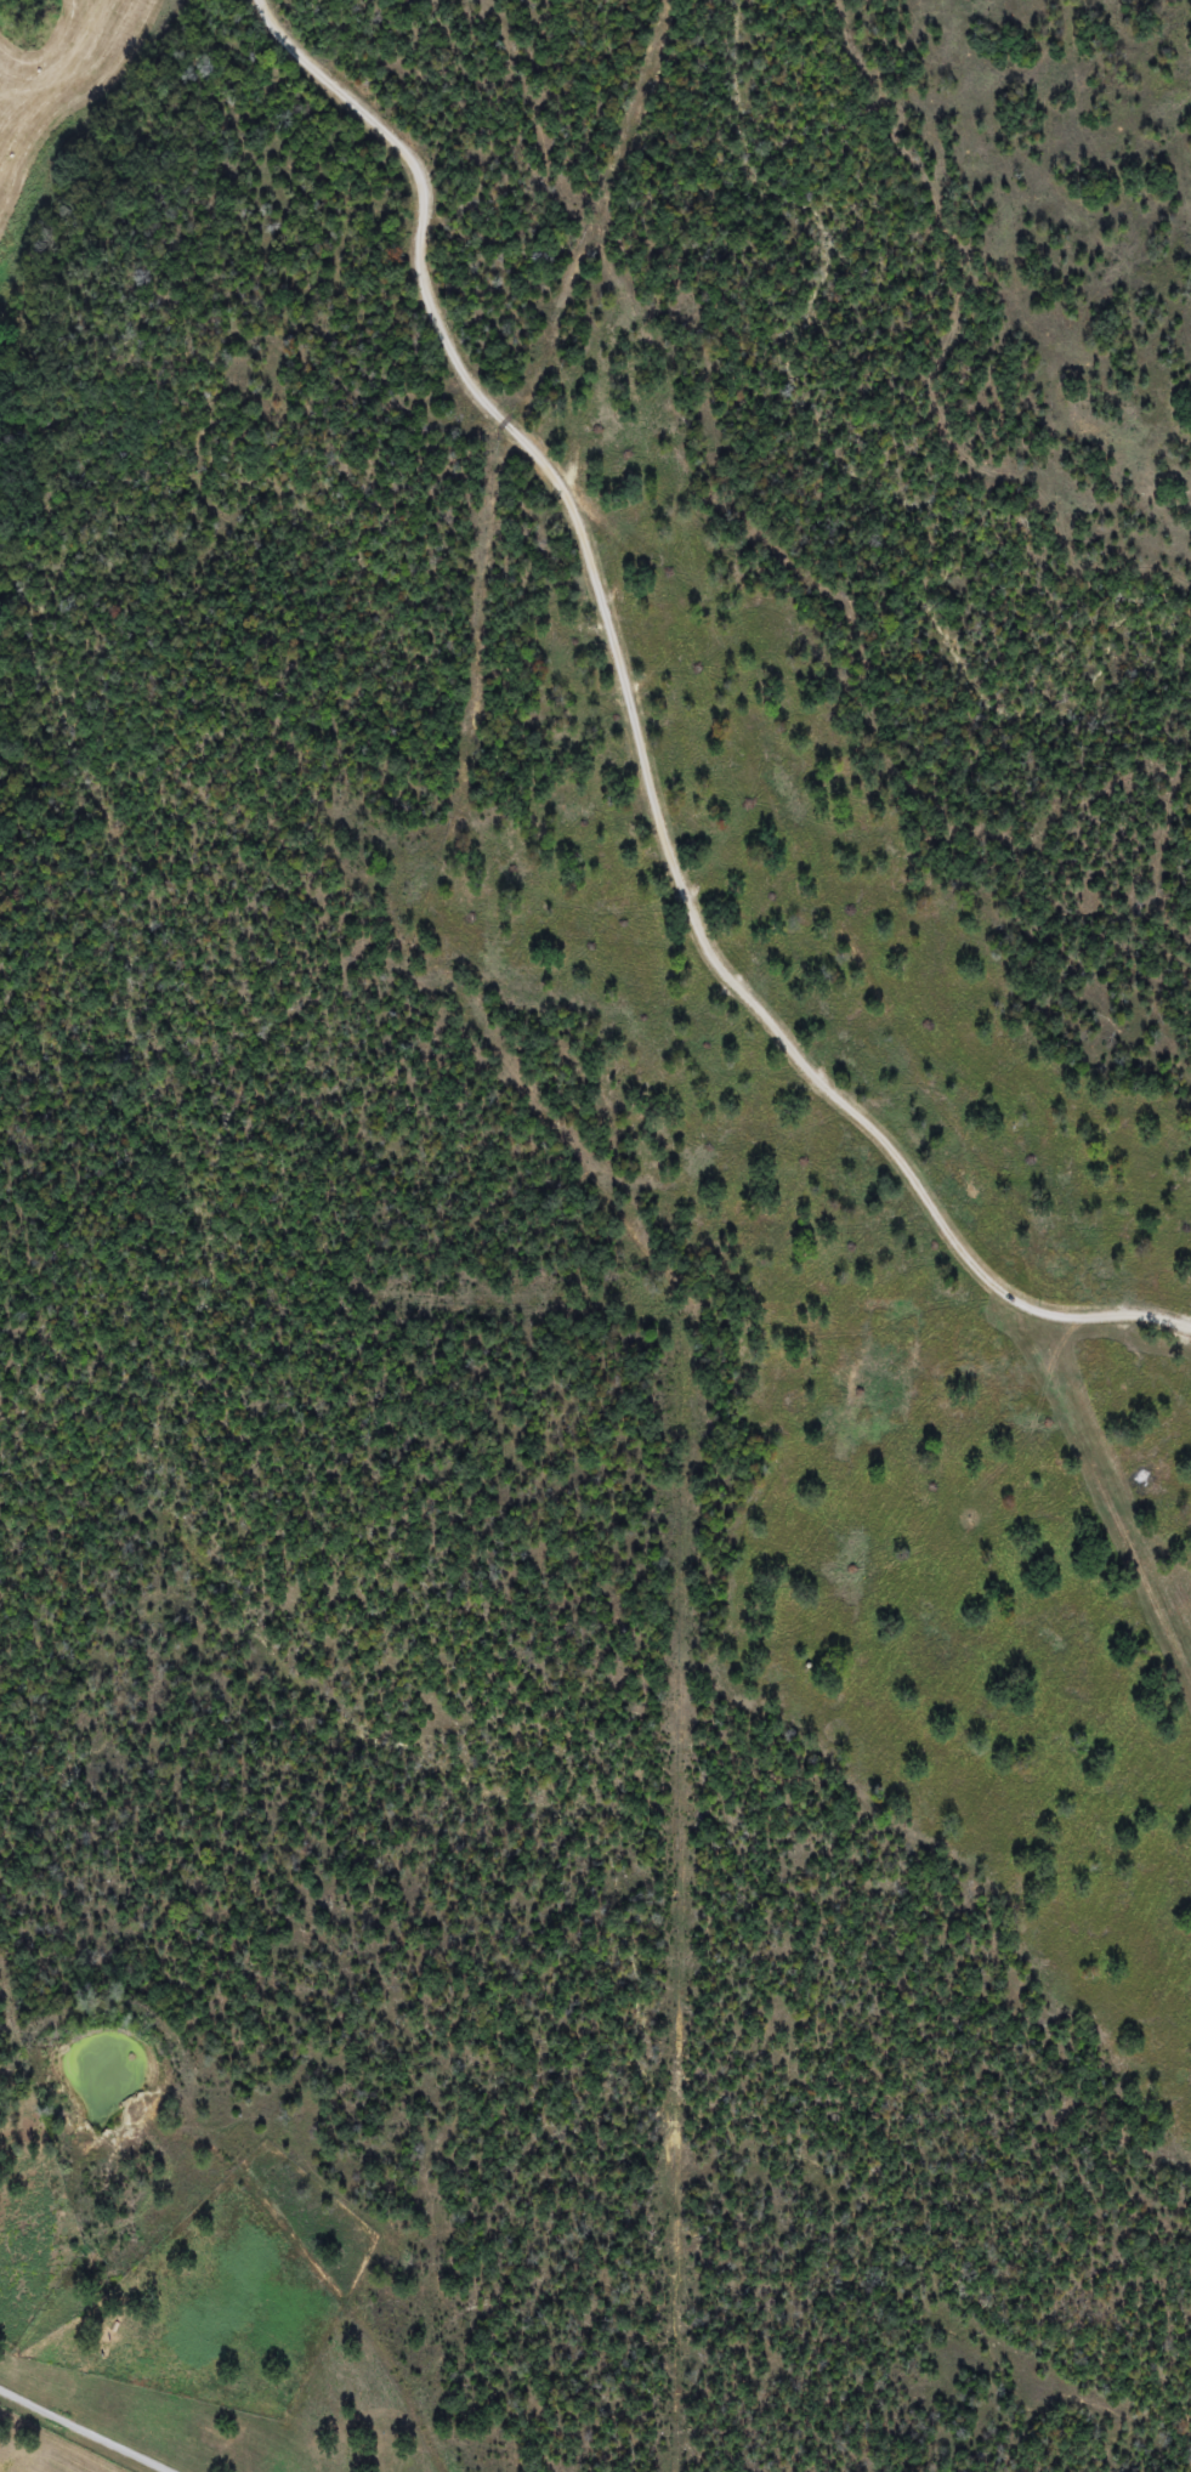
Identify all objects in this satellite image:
road: (83, 2430)

